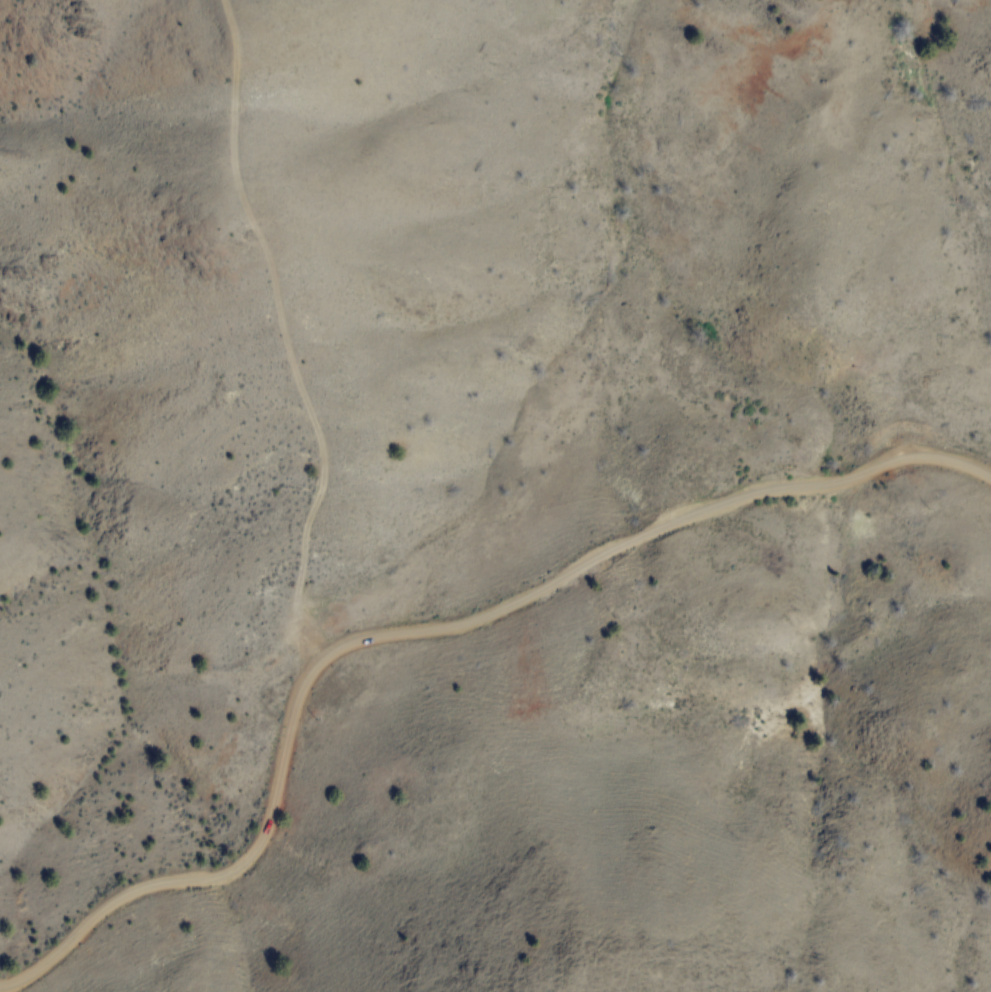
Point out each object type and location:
road: (284, 334)
road: (422, 629)

